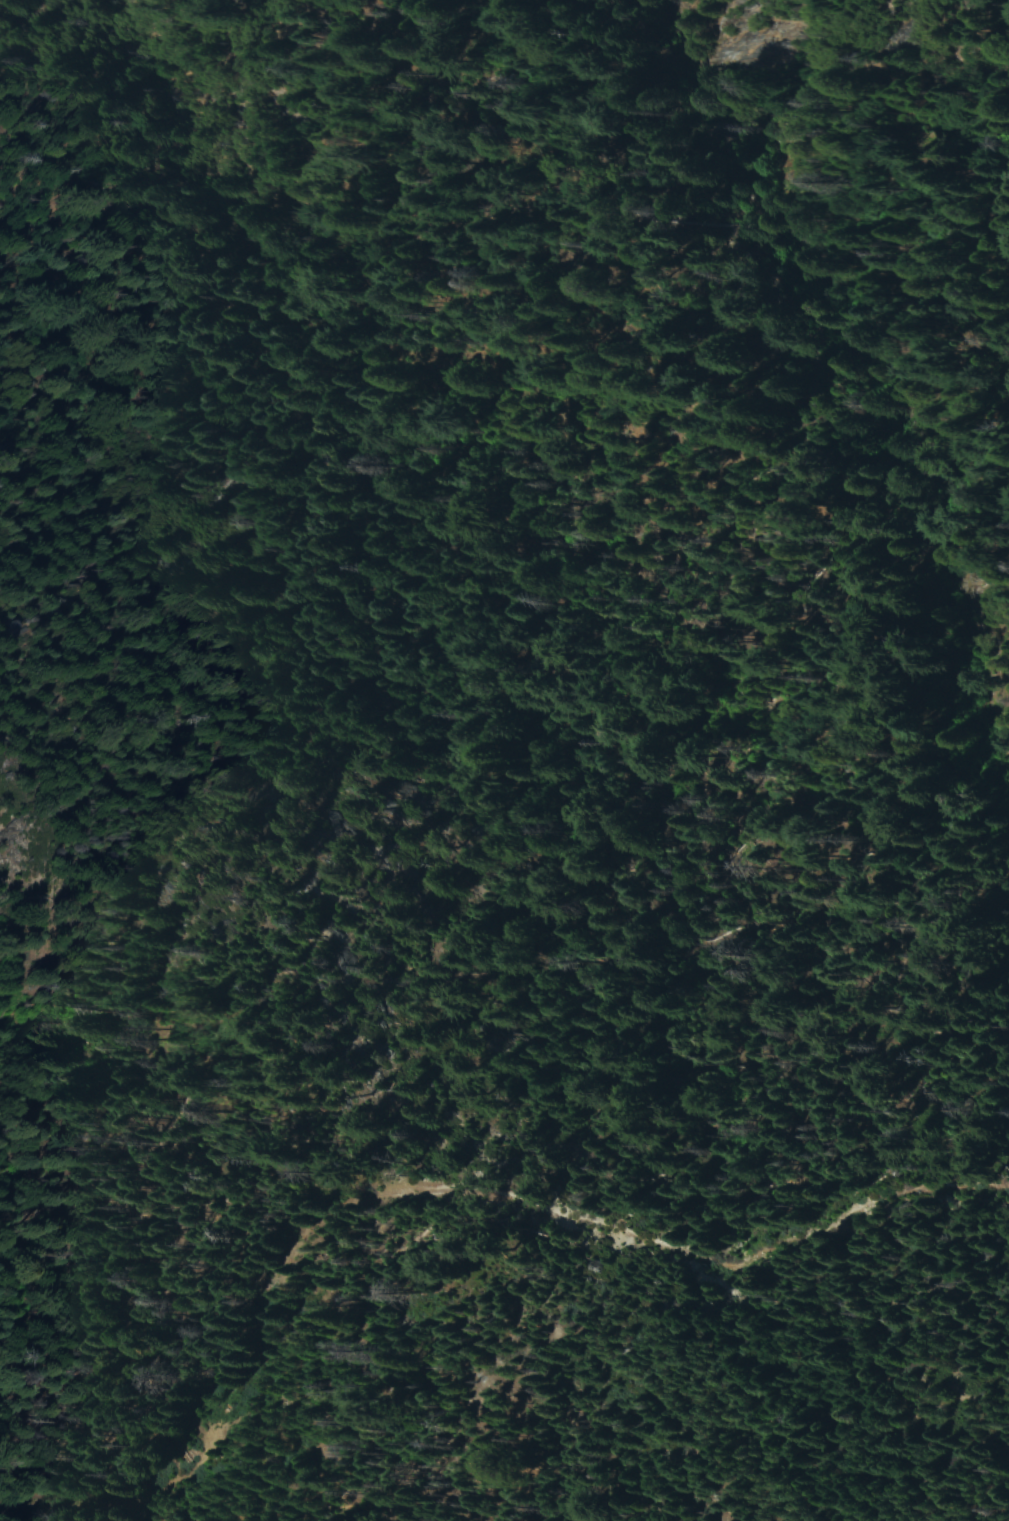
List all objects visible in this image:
road: (434, 1191)

